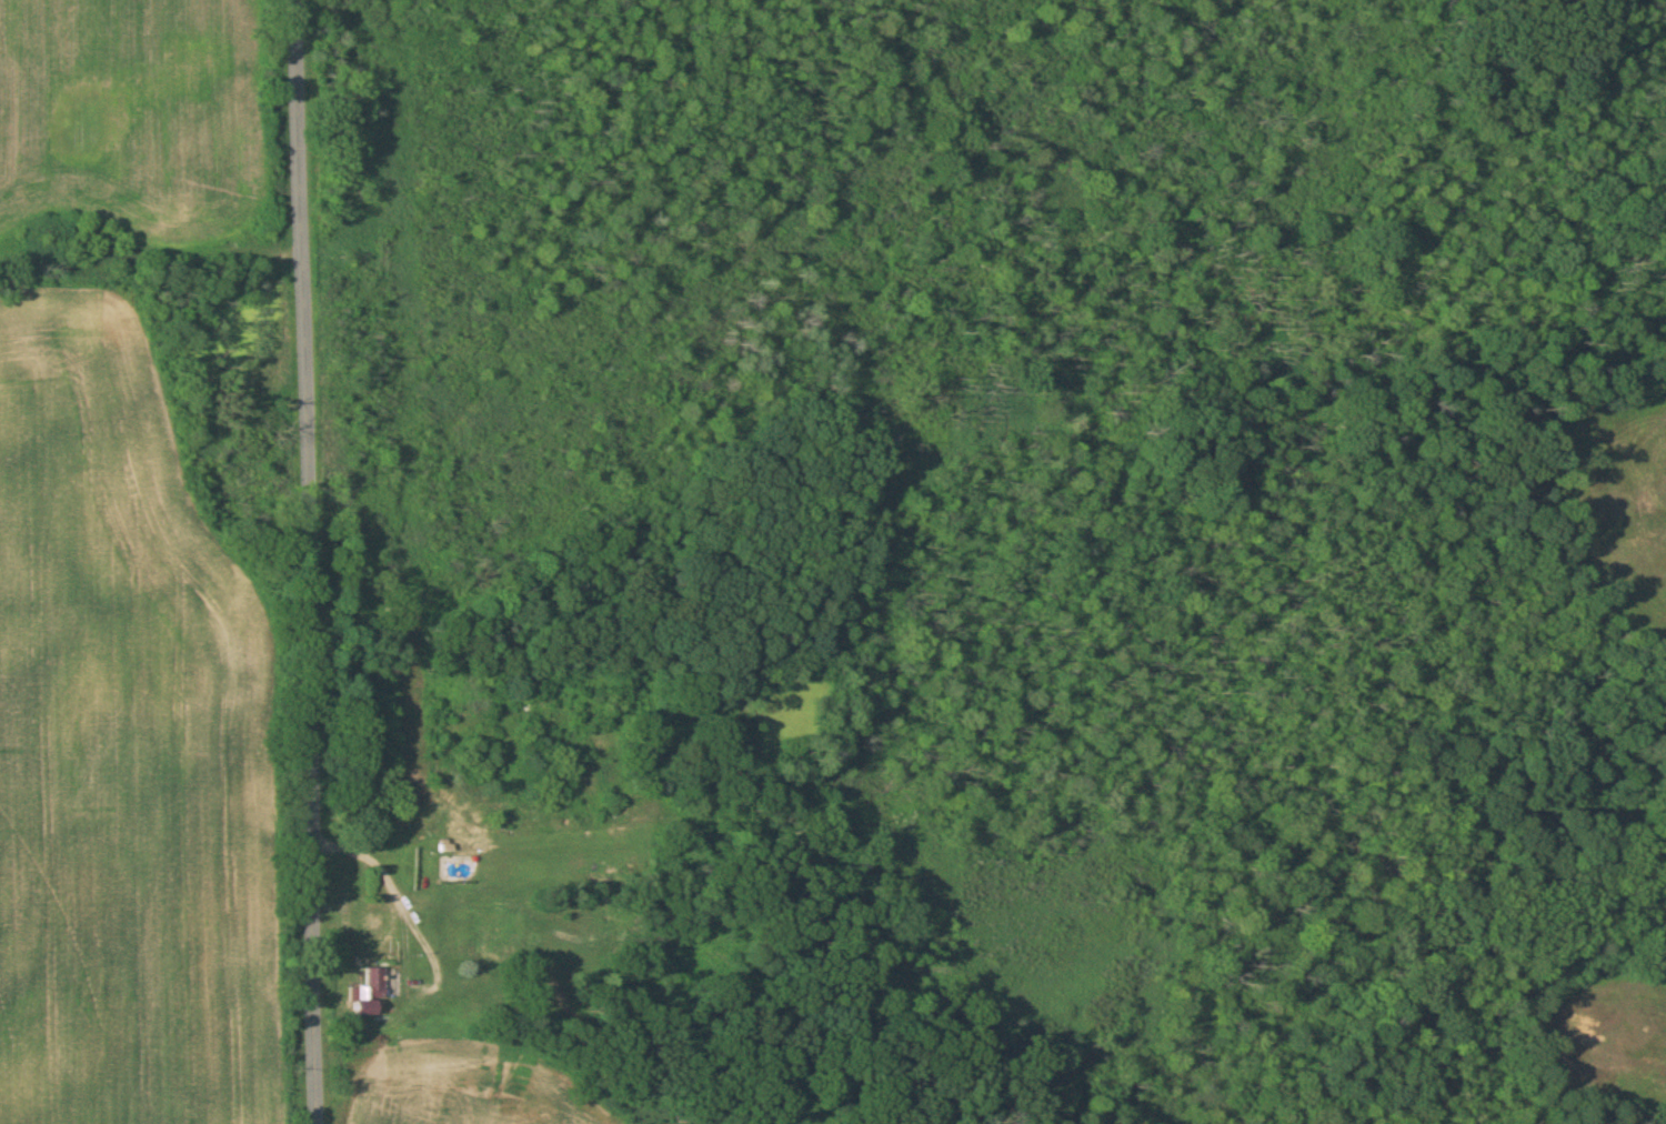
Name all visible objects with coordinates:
road: (308, 561)
road: (398, 894)
building: (368, 994)

